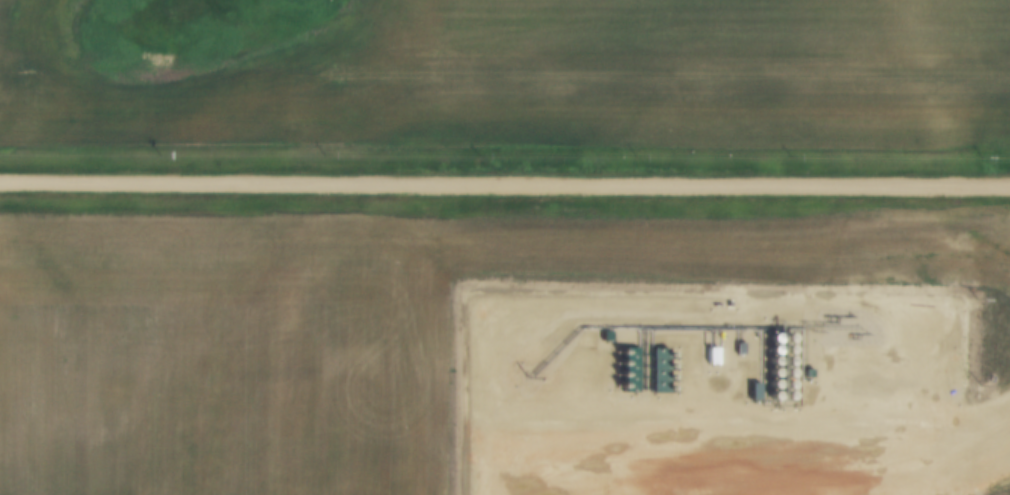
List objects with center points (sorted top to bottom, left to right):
road: (504, 188)

